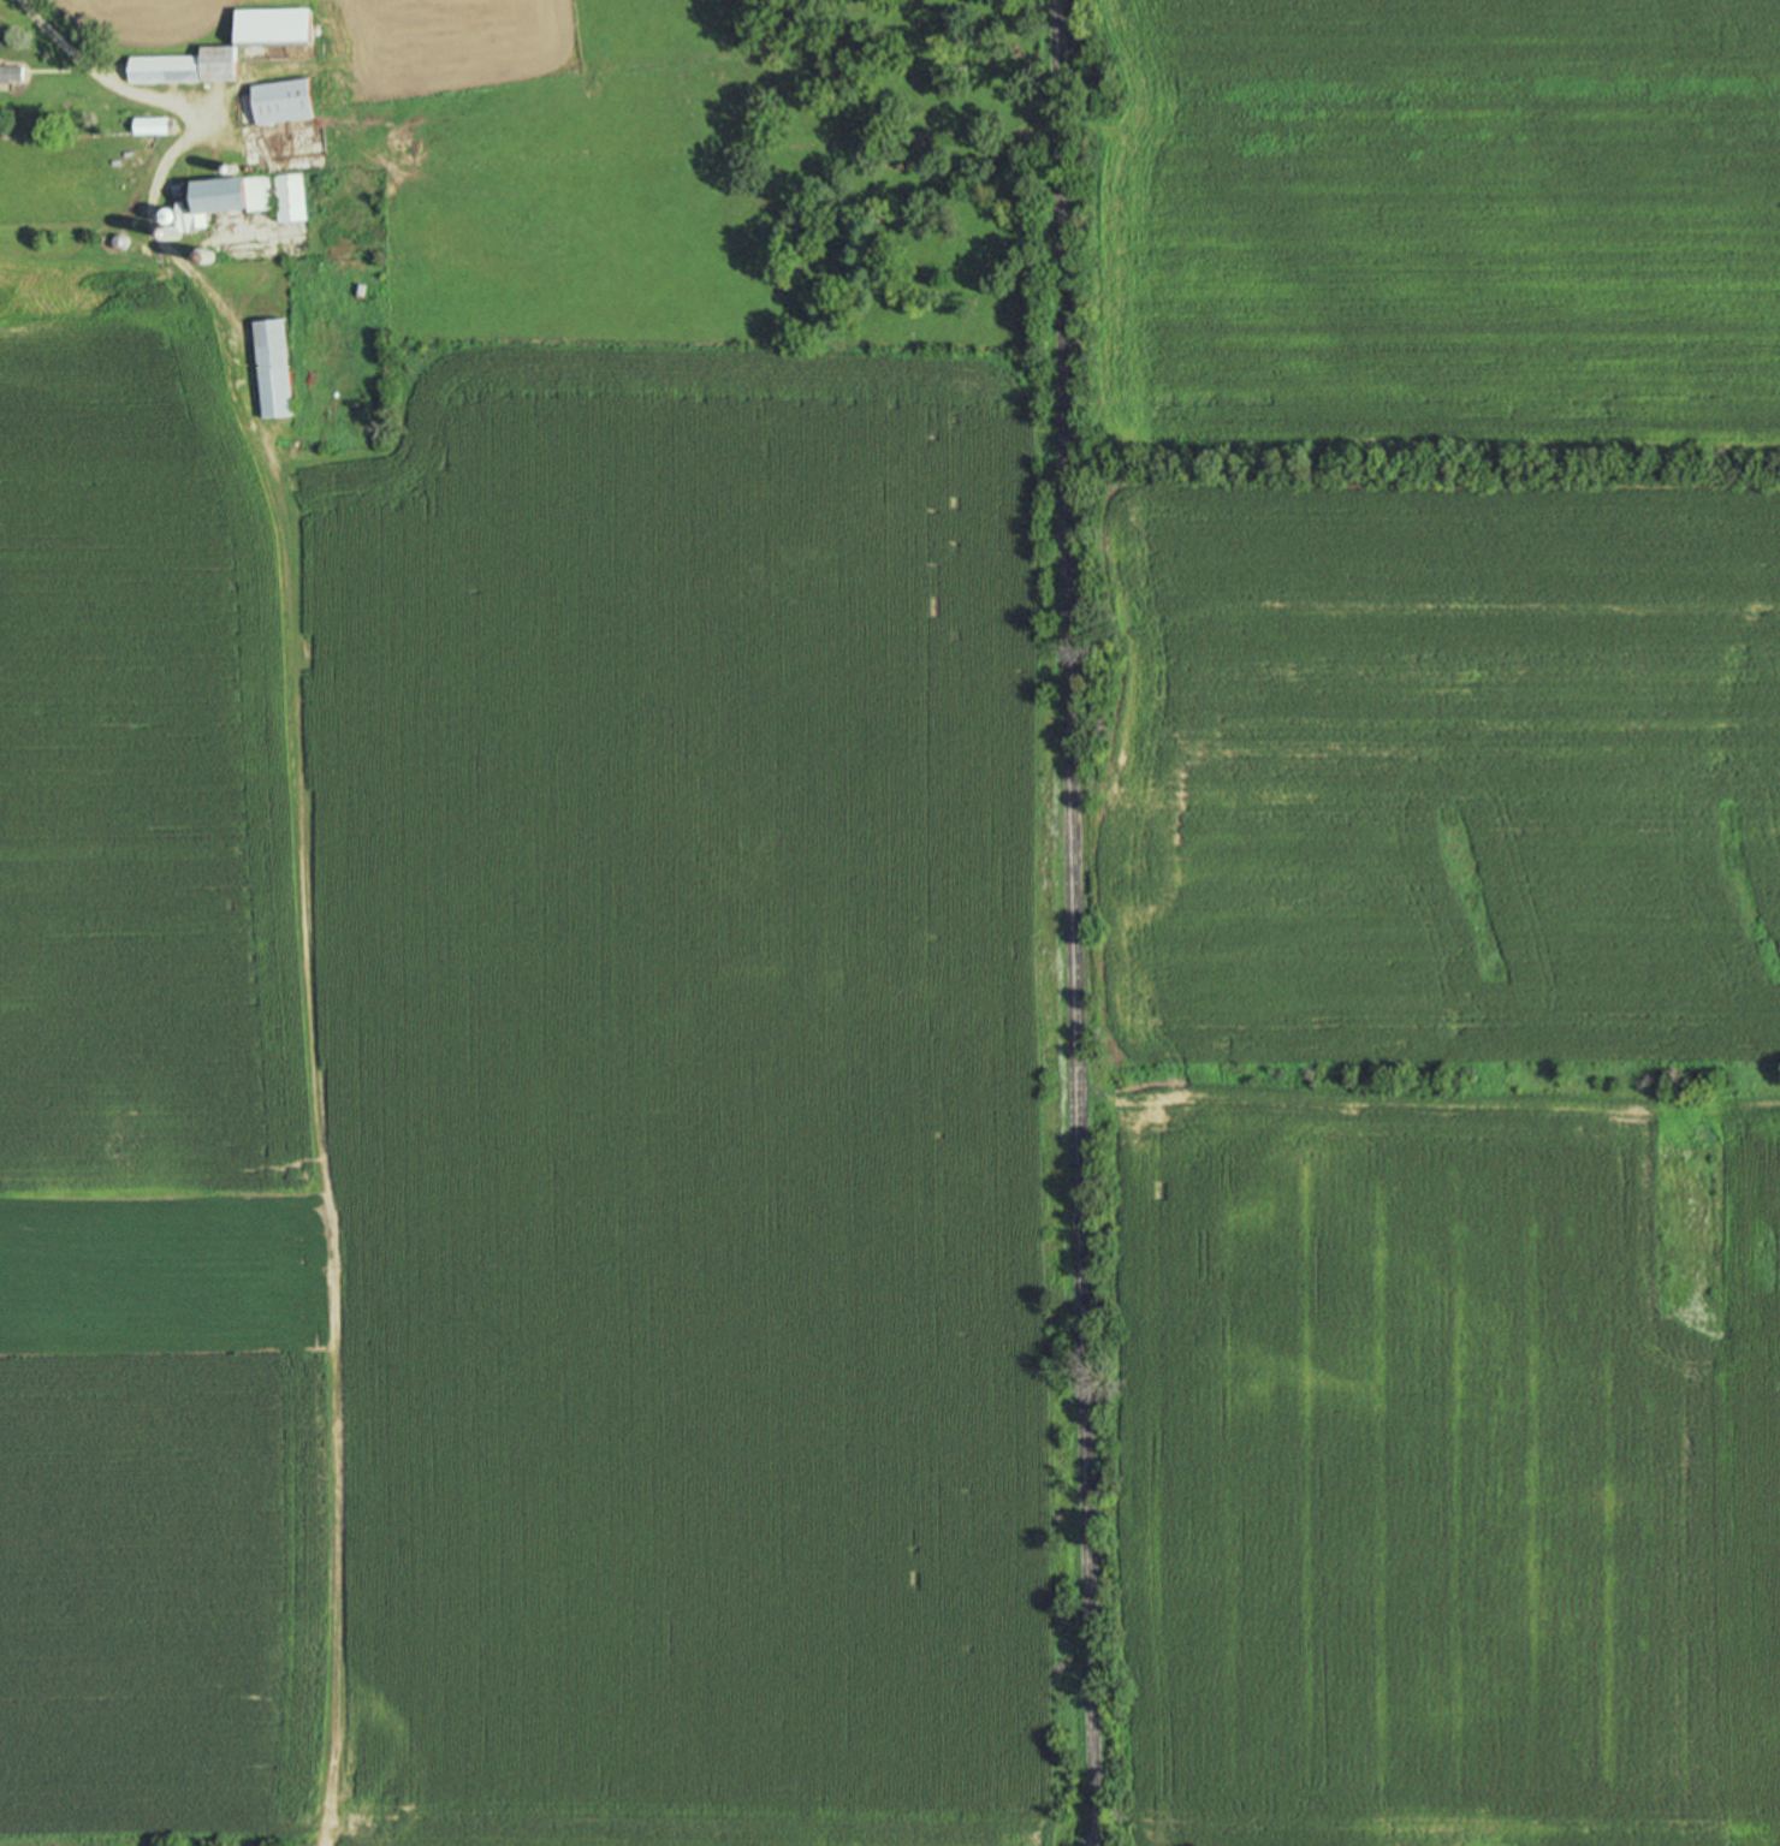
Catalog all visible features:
building: (269, 26)
building: (183, 66)
building: (10, 72)
road: (147, 99)
building: (277, 101)
building: (285, 196)
building: (215, 198)
road: (72, 227)
building: (268, 368)
road: (1078, 922)
road: (310, 1015)

